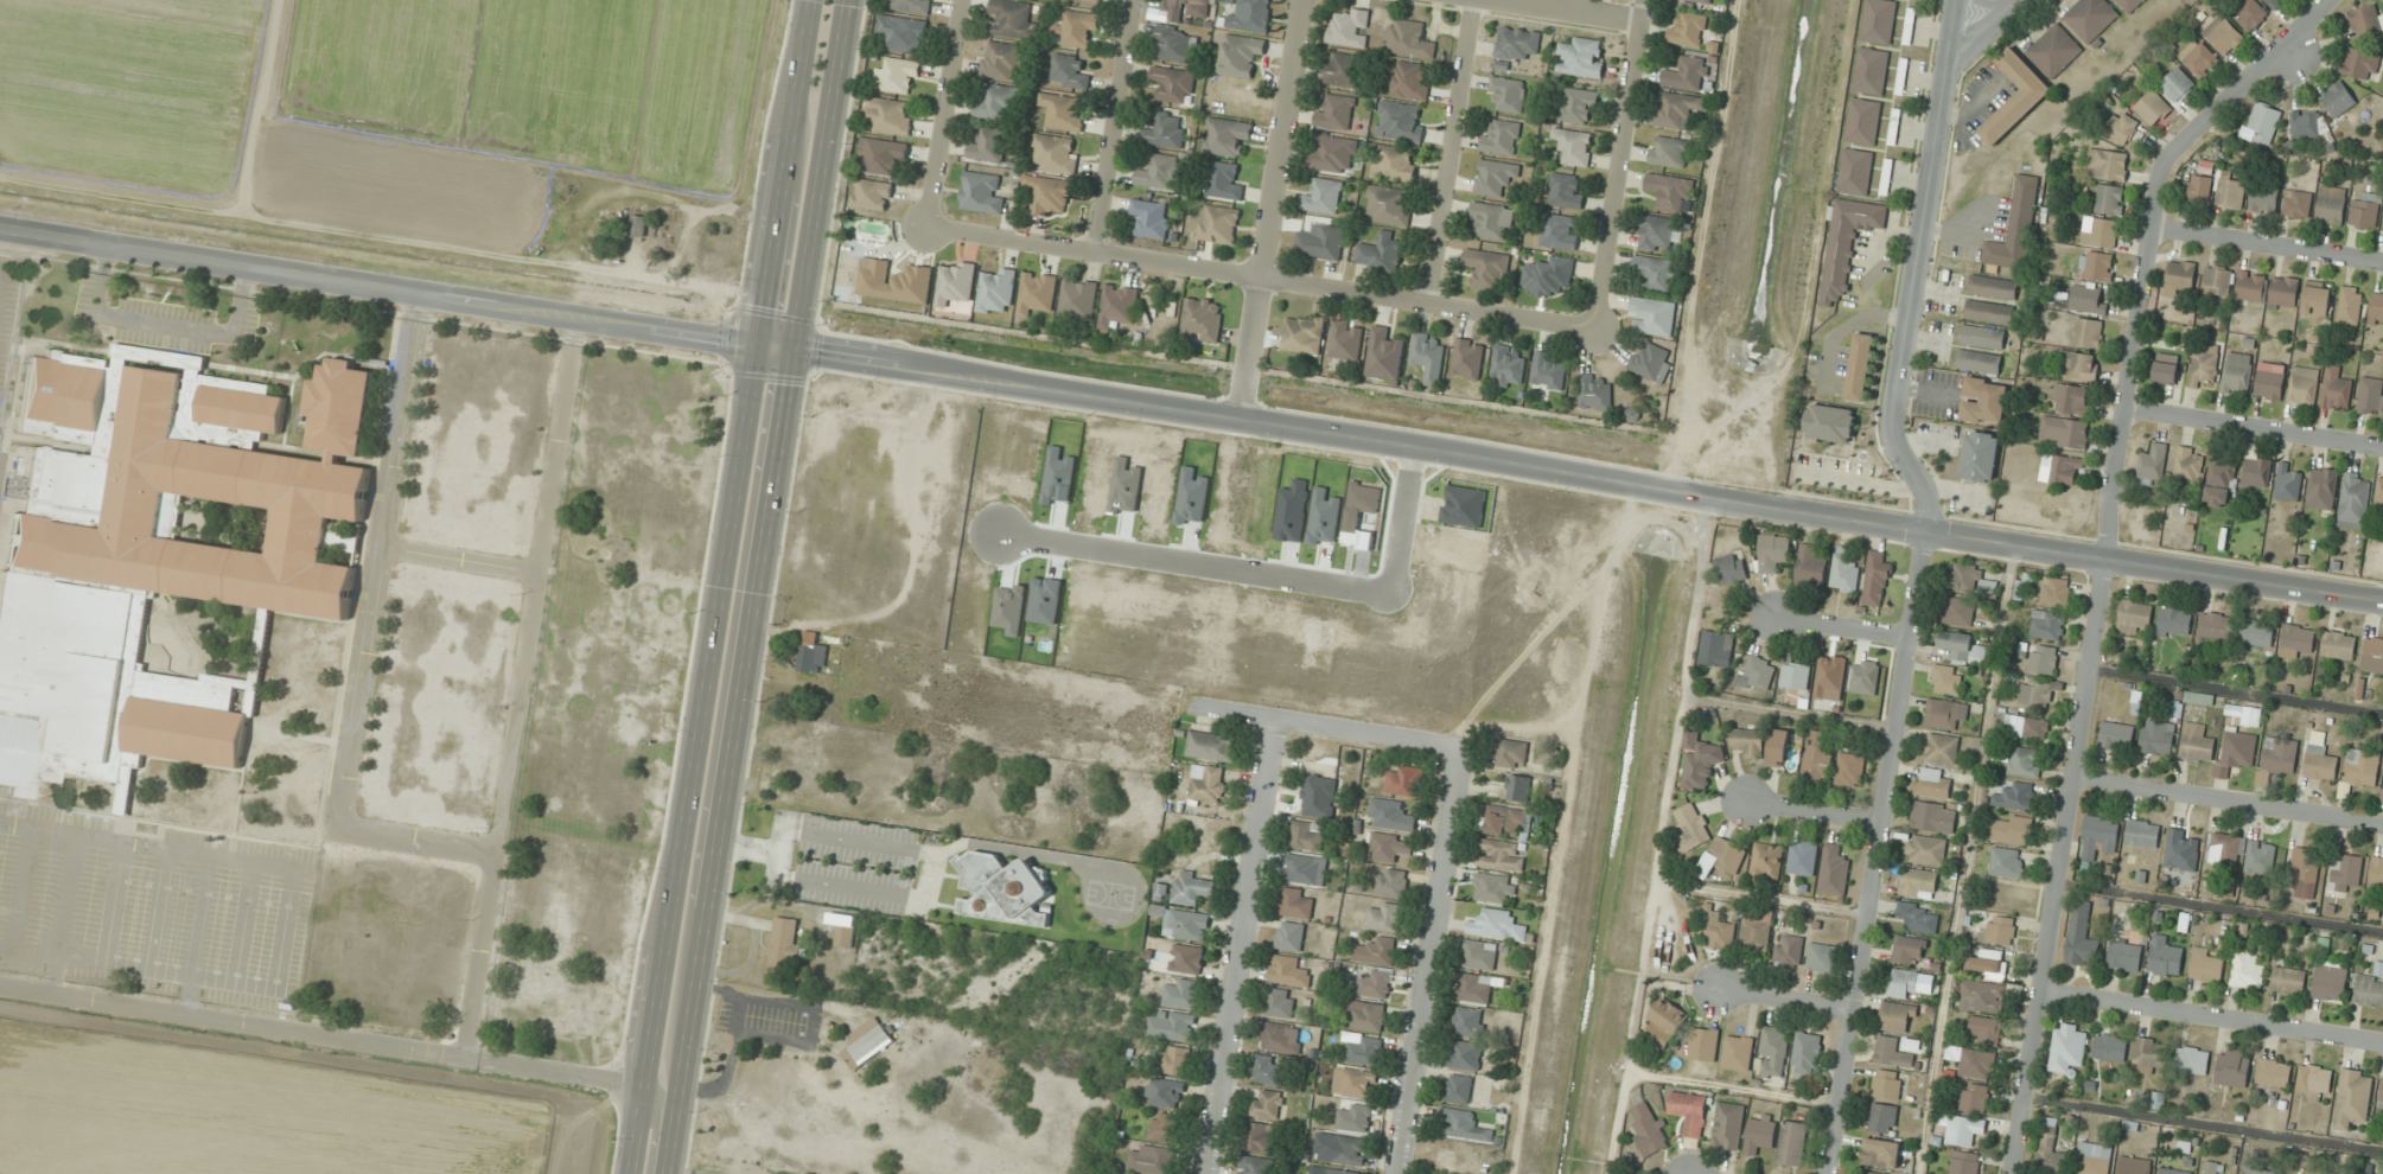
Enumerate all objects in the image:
building: (1097, 0)
building: (1697, 1)
building: (2273, 2)
building: (910, 5)
building: (2129, 5)
building: (1184, 8)
road: (1570, 12)
building: (2250, 14)
building: (1251, 15)
building: (2090, 18)
building: (1012, 19)
building: (2366, 19)
building: (1879, 21)
road: (1989, 26)
building: (1076, 28)
building: (1350, 28)
building: (1688, 28)
building: (903, 33)
building: (2223, 34)
building: (1409, 39)
building: (1517, 43)
building: (1173, 44)
building: (2054, 51)
building: (1238, 56)
building: (1581, 58)
building: (1001, 59)
building: (2199, 59)
building: (2360, 64)
building: (1342, 69)
building: (1069, 71)
building: (1871, 71)
building: (1687, 72)
building: (898, 76)
building: (1409, 81)
building: (1172, 84)
building: (2177, 84)
building: (1506, 94)
building: (2015, 96)
building: (2337, 100)
building: (999, 103)
building: (1578, 104)
building: (2152, 108)
building: (1677, 109)
building: (1062, 113)
building: (1334, 113)
road: (945, 114)
building: (890, 115)
building: (1398, 121)
building: (1863, 121)
building: (2261, 123)
building: (2307, 123)
road: (1115, 126)
building: (1894, 126)
building: (2122, 127)
building: (1166, 130)
building: (1226, 136)
building: (1500, 138)
building: (988, 145)
building: (1574, 146)
road: (1453, 151)
building: (1670, 151)
building: (1053, 154)
building: (1332, 154)
building: (883, 155)
building: (1393, 162)
road: (1620, 164)
building: (2107, 164)
building: (1160, 171)
road: (784, 172)
building: (1855, 172)
building: (1495, 177)
building: (1886, 177)
building: (1224, 180)
building: (2199, 184)
building: (1565, 191)
building: (2229, 191)
building: (1670, 192)
building: (981, 193)
building: (872, 194)
building: (1049, 194)
building: (1323, 196)
building: (2263, 198)
building: (2110, 199)
building: (1389, 204)
building: (2296, 204)
building: (2331, 205)
road: (1273, 210)
building: (2364, 210)
building: (1151, 218)
building: (1491, 219)
building: (1218, 224)
building: (638, 225)
building: (2015, 228)
building: (1560, 231)
building: (2101, 231)
building: (1658, 232)
building: (1321, 242)
building: (1847, 243)
road: (2267, 243)
building: (1380, 254)
building: (2096, 266)
building: (1487, 267)
road: (1912, 270)
building: (1659, 274)
road: (1261, 275)
building: (1546, 275)
building: (2180, 275)
building: (893, 281)
building: (2217, 281)
building: (955, 282)
building: (2250, 286)
road: (378, 287)
building: (1993, 287)
building: (996, 292)
building: (1037, 293)
building: (2283, 293)
building: (2088, 298)
building: (2317, 298)
building: (1078, 299)
building: (1119, 305)
building: (2350, 306)
building: (2376, 306)
building: (1989, 311)
building: (1654, 315)
building: (1202, 319)
building: (2089, 332)
building: (1302, 333)
building: (1982, 336)
building: (1345, 339)
road: (775, 346)
traffic signals: (791, 349)
building: (1384, 355)
building: (1428, 356)
building: (1467, 359)
building: (1651, 362)
building: (1979, 362)
building: (2079, 364)
building: (2204, 364)
building: (1508, 366)
building: (1860, 366)
building: (2166, 368)
building: (1549, 370)
building: (2237, 374)
building: (2270, 381)
building: (2304, 385)
building: (2337, 389)
building: (1595, 391)
building: (2370, 396)
building: (2071, 398)
building: (1983, 401)
building: (1830, 423)
road: (2253, 426)
building: (2063, 432)
building: (1980, 455)
building: (2153, 462)
building: (2188, 465)
building: (2062, 468)
building: (2256, 472)
road: (1586, 477)
building: (2219, 480)
building: (2288, 484)
building: (2323, 487)
building: (2379, 491)
building: (2355, 500)
building: (1773, 551)
road: (2102, 553)
road: (459, 557)
building: (1810, 568)
building: (1731, 569)
building: (1844, 572)
building: (1877, 579)
building: (1970, 580)
road: (754, 586)
building: (2056, 592)
building: (1957, 611)
building: (2134, 615)
building: (2175, 621)
building: (2047, 625)
building: (2216, 625)
road: (1841, 627)
building: (2256, 631)
road: (368, 637)
building: (2296, 640)
building: (2339, 644)
building: (1962, 646)
building: (1715, 647)
building: (811, 652)
building: (2372, 655)
building: (2043, 659)
building: (1757, 672)
building: (1796, 675)
building: (1865, 676)
building: (1830, 677)
building: (1946, 679)
road: (518, 687)
road: (2237, 690)
building: (2037, 691)
road: (1786, 713)
building: (1946, 713)
building: (2244, 714)
road: (1327, 726)
building: (2026, 726)
building: (2116, 735)
building: (2158, 738)
building: (1747, 741)
building: (2197, 742)
building: (1210, 746)
building: (1778, 747)
building: (1939, 747)
building: (2239, 747)
building: (13, 751)
building: (1510, 753)
building: (2280, 754)
road: (693, 759)
building: (1701, 759)
building: (2021, 760)
building: (1817, 763)
building: (2319, 763)
building: (809, 766)
building: (2362, 767)
building: (1849, 768)
building: (1404, 780)
building: (1933, 781)
building: (1208, 783)
building: (1519, 787)
building: (1318, 796)
building: (2015, 797)
road: (2229, 800)
road: (1812, 811)
building: (1390, 815)
building: (1933, 816)
building: (1505, 821)
building: (1693, 825)
road: (15, 828)
building: (2008, 829)
building: (2142, 834)
building: (1305, 835)
road: (1658, 835)
building: (2098, 836)
road: (147, 847)
building: (1388, 847)
building: (1925, 849)
building: (2181, 849)
building: (2225, 849)
building: (1728, 854)
road: (1873, 854)
building: (1499, 855)
building: (1803, 856)
building: (2258, 859)
building: (1767, 860)
road: (1964, 860)
building: (2007, 862)
building: (1305, 868)
building: (1834, 870)
building: (2346, 872)
building: (2305, 873)
building: (2376, 875)
building: (1391, 882)
building: (1919, 882)
building: (1193, 887)
building: (1495, 888)
building: (1003, 889)
road: (20, 891)
road: (1759, 897)
road: (114, 902)
building: (1296, 902)
road: (2220, 907)
road: (158, 910)
building: (1385, 915)
building: (1919, 917)
road: (246, 923)
building: (1187, 924)
building: (1498, 925)
building: (1719, 930)
building: (2001, 930)
building: (847, 931)
building: (1756, 933)
building: (1291, 936)
building: (2082, 936)
road: (1237, 945)
building: (784, 946)
road: (5, 949)
building: (1907, 949)
building: (1789, 950)
building: (1377, 951)
building: (1479, 955)
building: (2124, 956)
building: (2165, 956)
building: (1187, 958)
building: (1822, 958)
road: (1429, 961)
building: (1988, 962)
building: (2206, 965)
building: (2247, 970)
building: (1288, 971)
building: (2330, 978)
building: (2288, 981)
building: (1376, 982)
building: (1903, 983)
road: (268, 987)
building: (1476, 988)
building: (2369, 990)
building: (1180, 993)
building: (1982, 996)
road: (1785, 998)
building: (1280, 1002)
building: (1368, 1016)
building: (1897, 1016)
road: (2213, 1016)
building: (1468, 1021)
building: (1665, 1021)
building: (1171, 1025)
building: (1984, 1029)
road: (320, 1034)
building: (1277, 1036)
building: (868, 1041)
building: (1703, 1044)
building: (2067, 1046)
building: (2110, 1046)
building: (1365, 1051)
building: (1773, 1051)
building: (1738, 1052)
building: (1892, 1053)
building: (2151, 1053)
building: (1464, 1054)
building: (1805, 1055)
building: (2193, 1059)
building: (1174, 1060)
building: (1976, 1064)
building: (2232, 1067)
building: (1268, 1070)
building: (2274, 1072)
building: (2313, 1082)
building: (1356, 1083)
building: (1887, 1084)
road: (1733, 1087)
building: (1458, 1089)
building: (2382, 1092)
building: (1165, 1093)
building: (1975, 1097)
building: (2352, 1098)
building: (1267, 1103)
building: (1689, 1111)
building: (1355, 1117)
building: (1882, 1118)
road: (2205, 1122)
building: (1465, 1124)
building: (1728, 1125)
building: (1162, 1127)
building: (1649, 1129)
building: (1963, 1129)
road: (654, 1130)
building: (1759, 1132)
building: (1259, 1136)
building: (1792, 1143)
building: (1349, 1150)
building: (2050, 1150)
building: (1880, 1153)
building: (1151, 1159)
building: (2094, 1159)
building: (1965, 1162)
building: (1255, 1165)
building: (2134, 1165)
building: (2211, 1167)
building: (2174, 1170)
building: (2257, 1170)
building: (1338, 1172)
building: (1869, 1172)
building: (2331, 1173)

